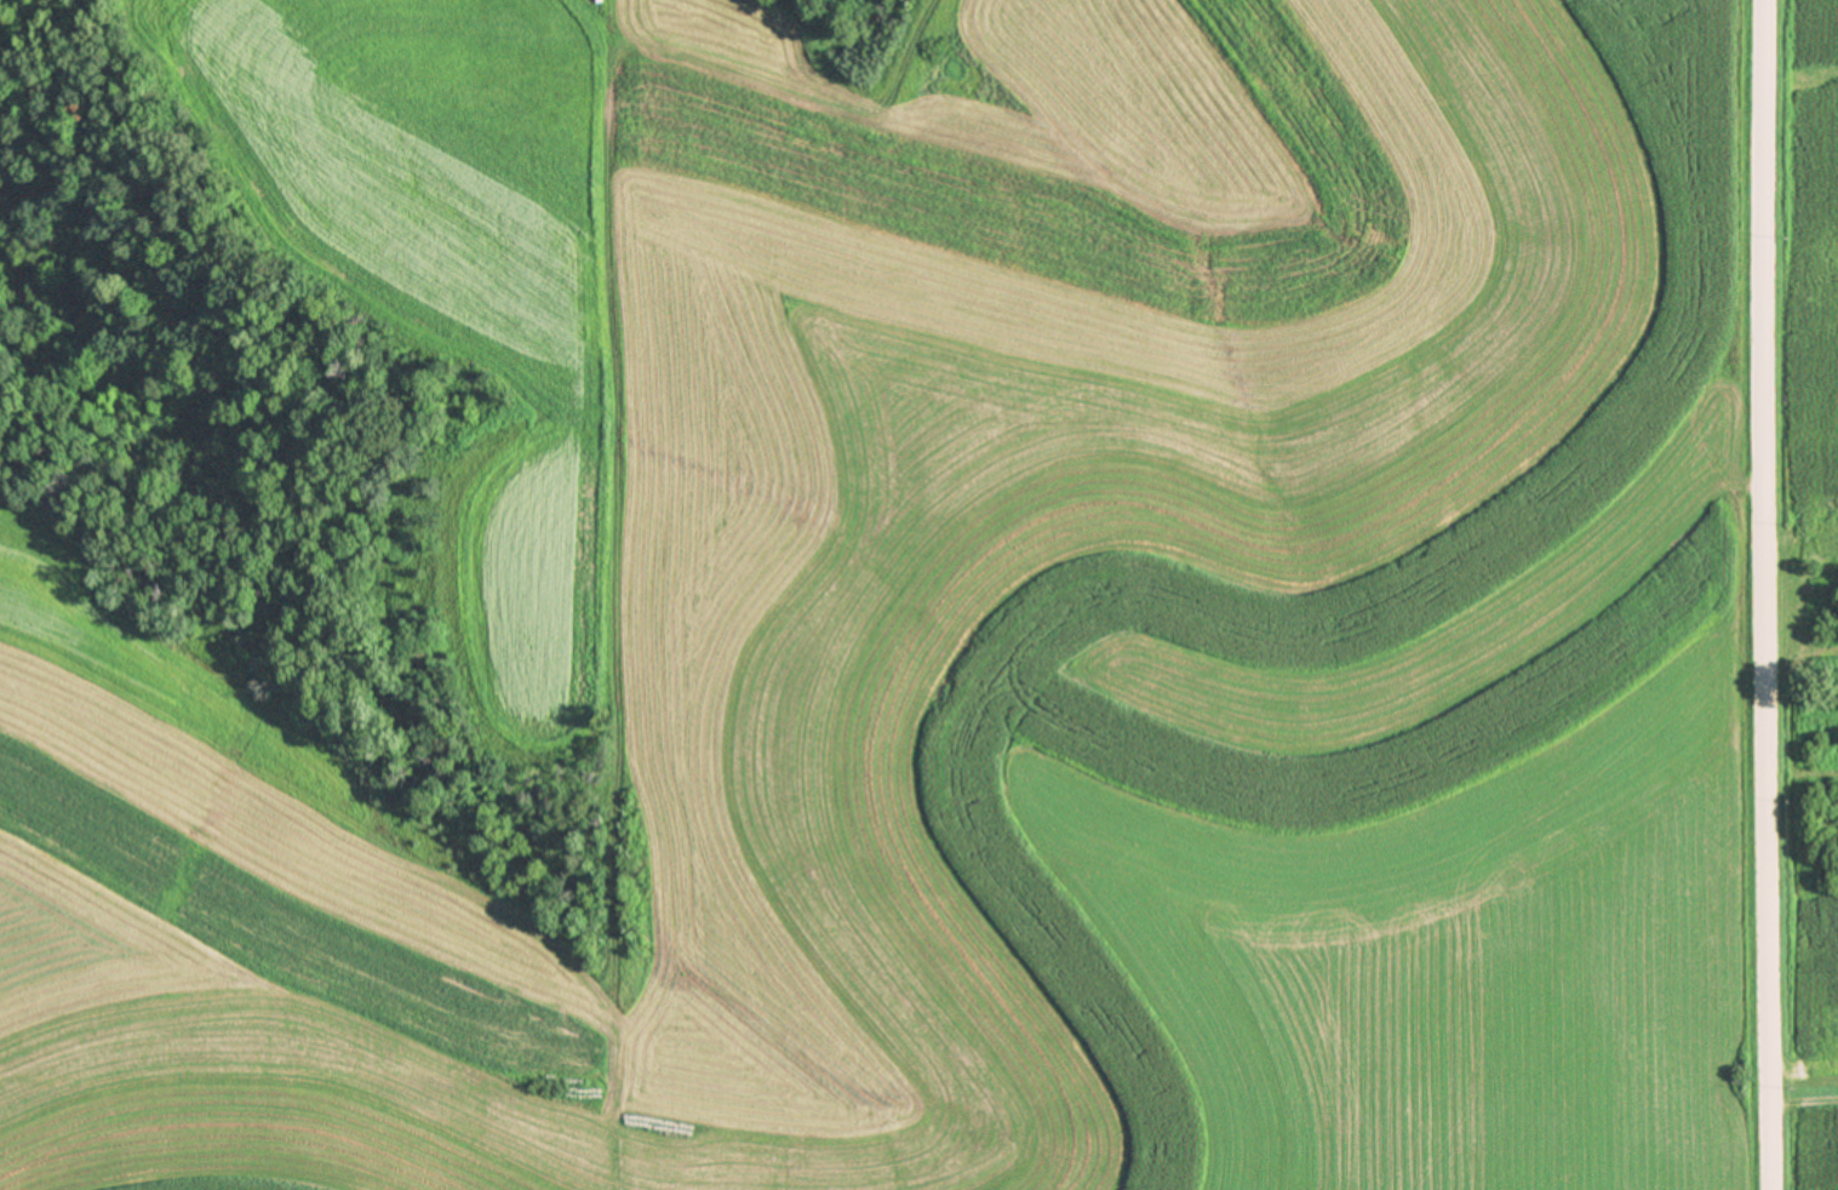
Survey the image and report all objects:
road: (1771, 595)

